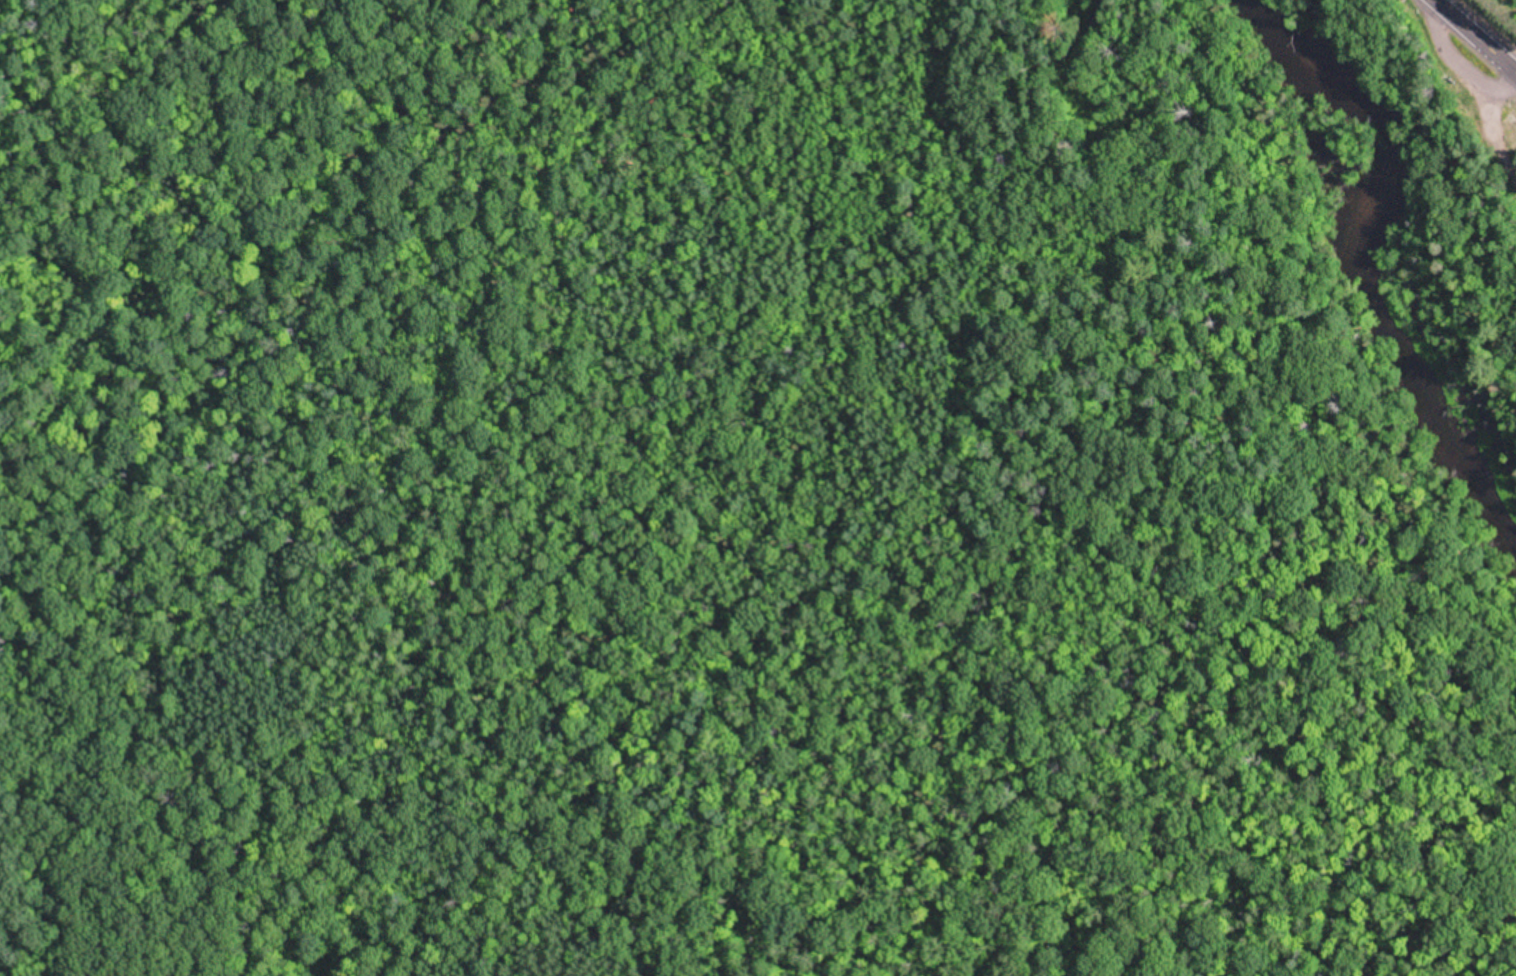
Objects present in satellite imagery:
road: (1477, 35)
road: (1454, 55)
road: (1499, 119)
river: (1372, 254)

